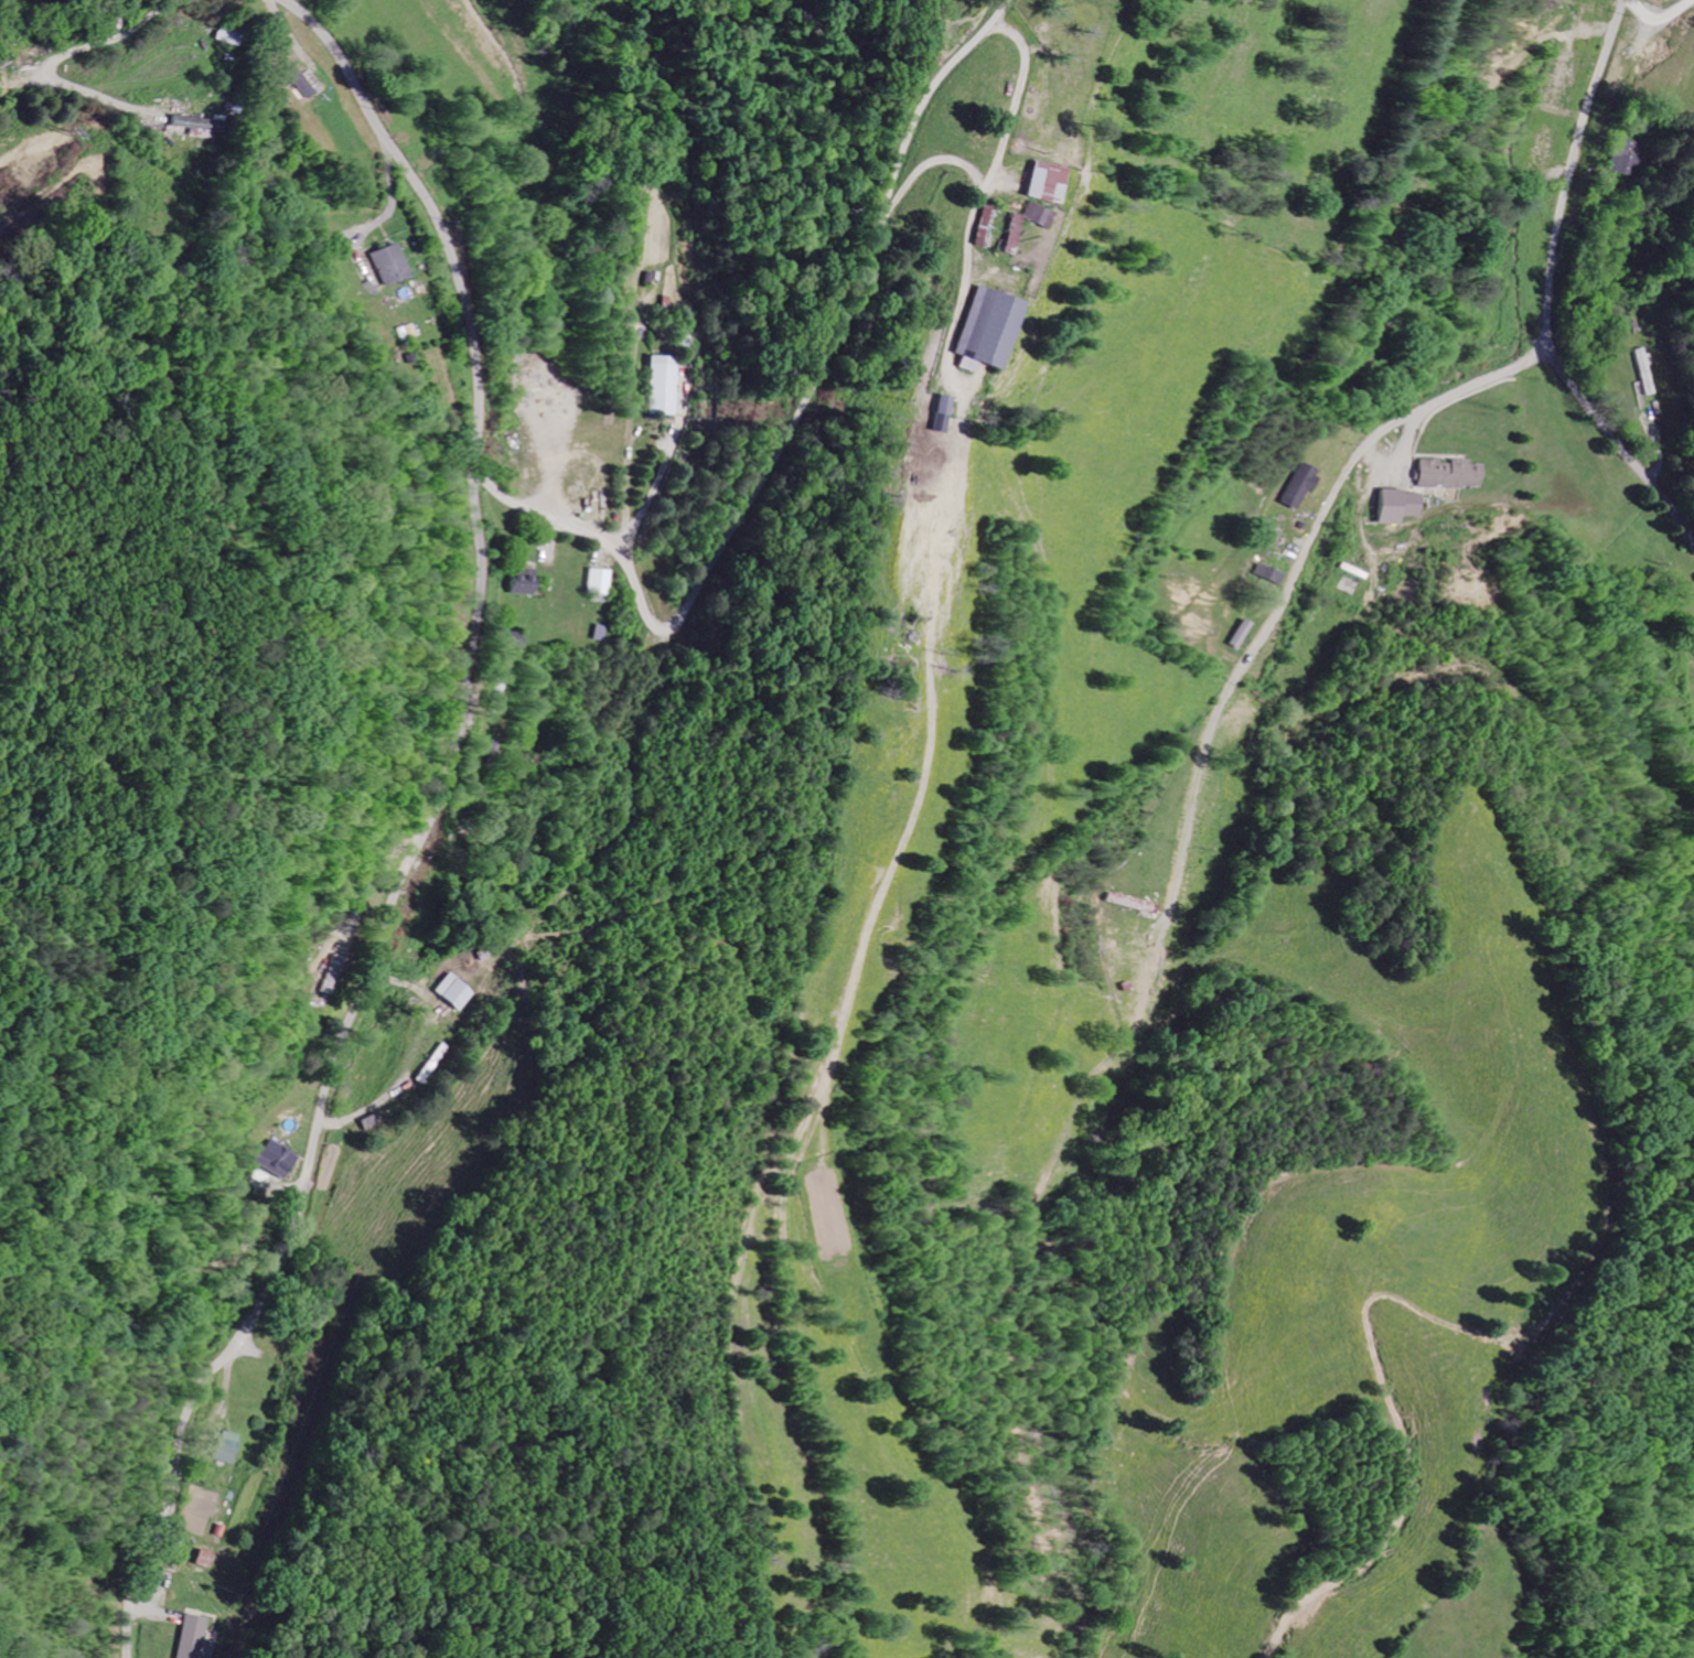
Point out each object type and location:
road: (287, 24)
road: (53, 57)
building: (299, 80)
building: (1623, 155)
road: (943, 162)
building: (1038, 181)
road: (998, 194)
building: (1033, 216)
road: (383, 217)
building: (1005, 233)
road: (1554, 249)
building: (388, 263)
building: (982, 330)
building: (1638, 372)
building: (656, 385)
road: (791, 428)
building: (1445, 473)
building: (1293, 485)
road: (646, 492)
building: (1392, 505)
road: (1671, 510)
building: (1263, 573)
building: (593, 581)
road: (1284, 590)
building: (1692, 643)
road: (425, 828)
building: (448, 992)
building: (274, 1159)
building: (223, 1447)
building: (186, 1637)

